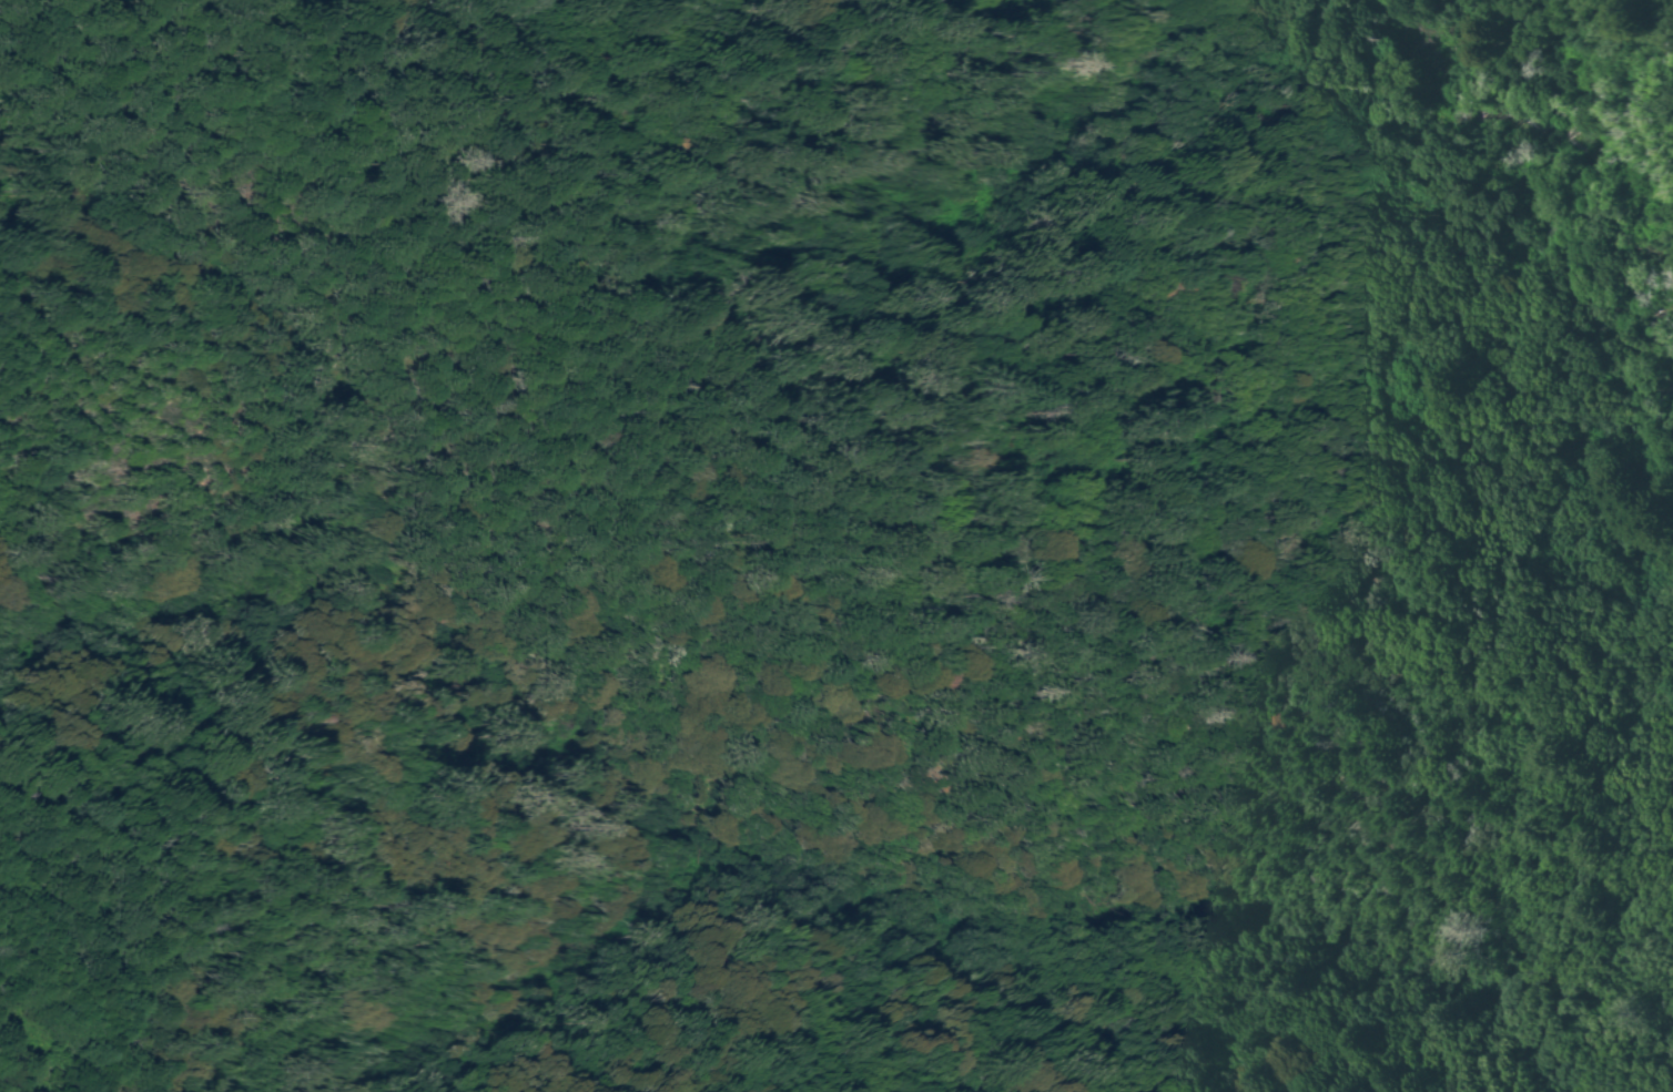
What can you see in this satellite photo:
road: (59, 997)

